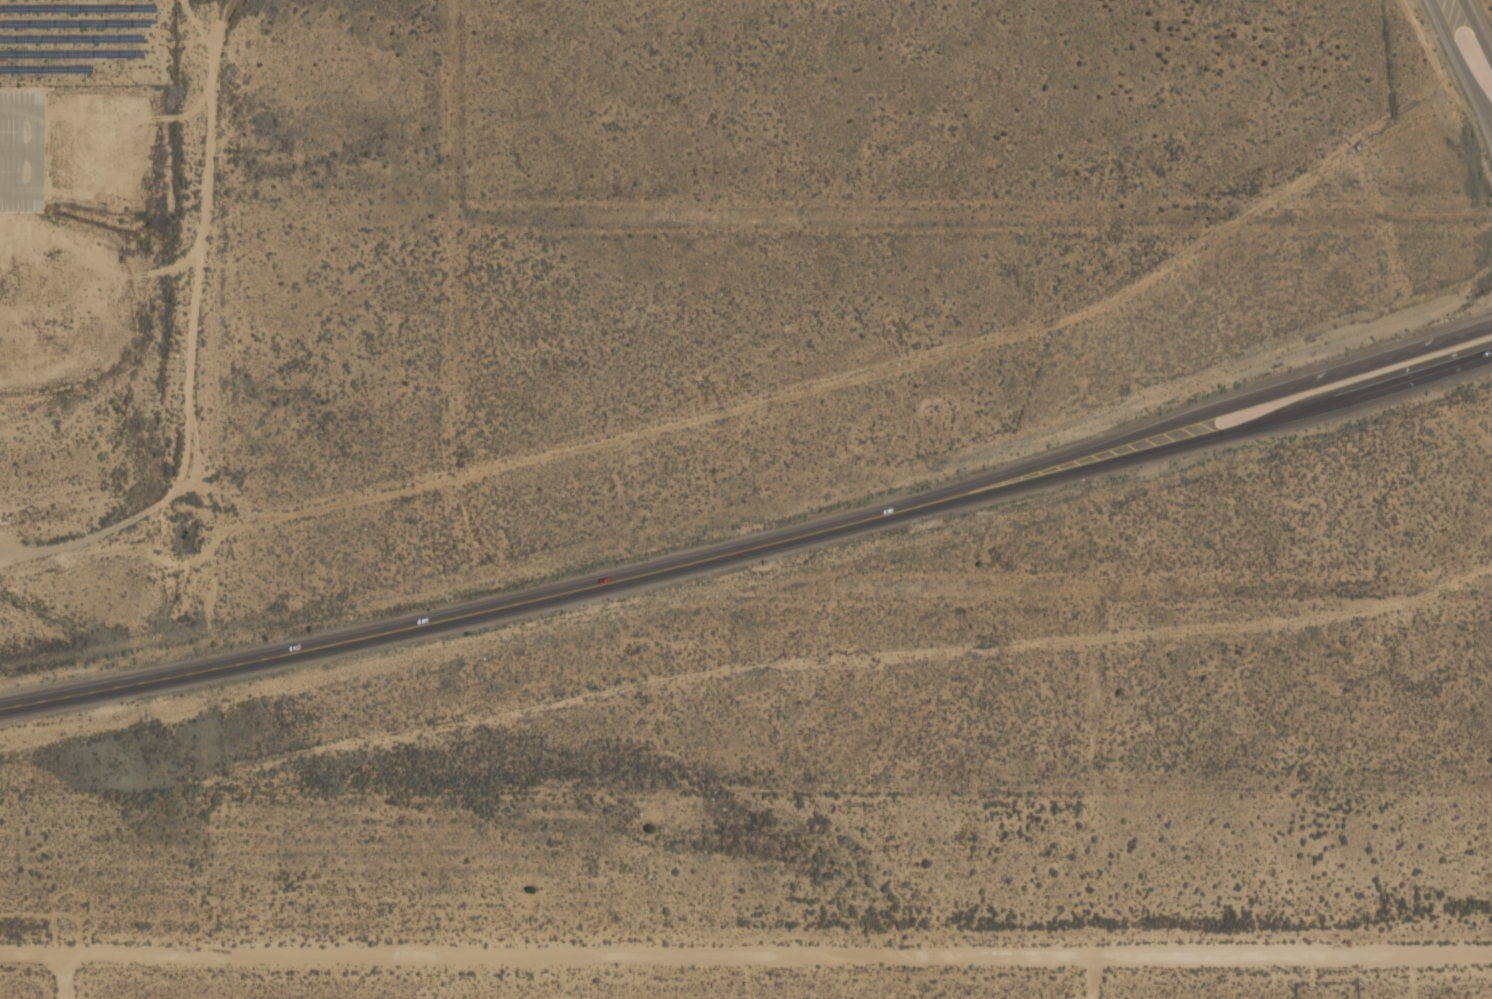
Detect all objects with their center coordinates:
road: (1480, 25)
solar farm: (69, 33)
road: (1460, 67)
road: (17, 111)
road: (17, 150)
parking lot: (21, 150)
road: (34, 151)
road: (17, 190)
road: (1205, 413)
road: (1208, 440)
road: (459, 608)
road: (745, 957)
road: (66, 977)
road: (1089, 978)

